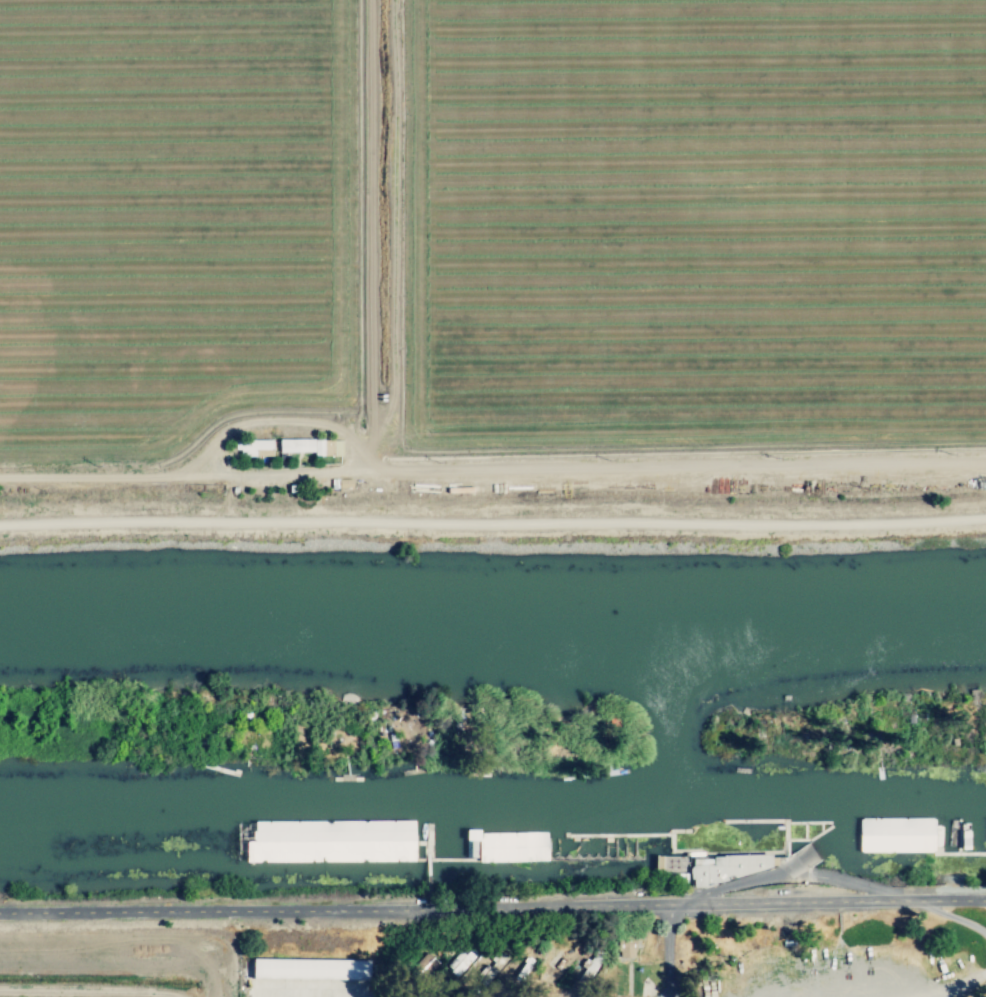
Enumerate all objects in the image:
building: (305, 448)
building: (251, 449)
road: (492, 471)
road: (493, 525)
river: (493, 626)
river: (493, 814)
building: (894, 836)
building: (323, 842)
building: (557, 848)
building: (726, 867)
road: (805, 871)
road: (492, 913)
road: (955, 921)
road: (679, 953)
crop: (119, 960)
building: (461, 961)
building: (591, 962)
building: (307, 969)
road: (966, 984)

